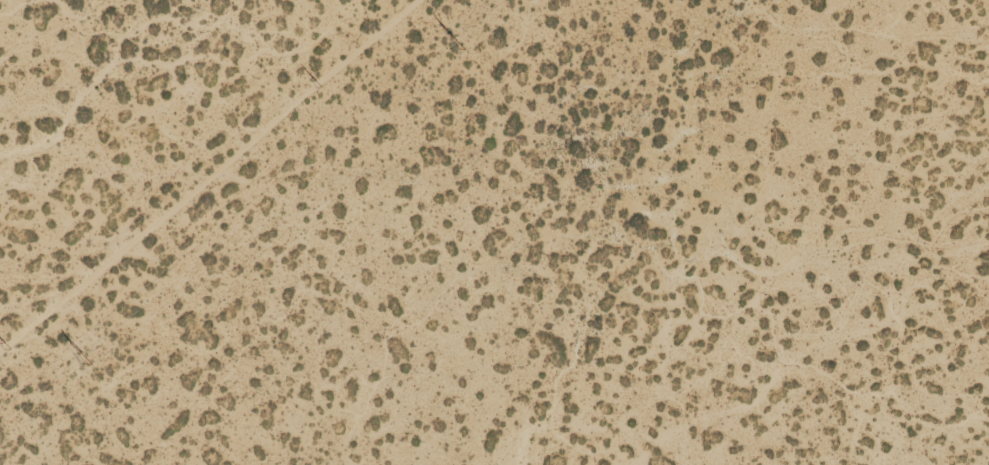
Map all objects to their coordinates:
power tower: (459, 40)
power tower: (317, 82)
power tower: (6, 345)
power tower: (88, 356)

